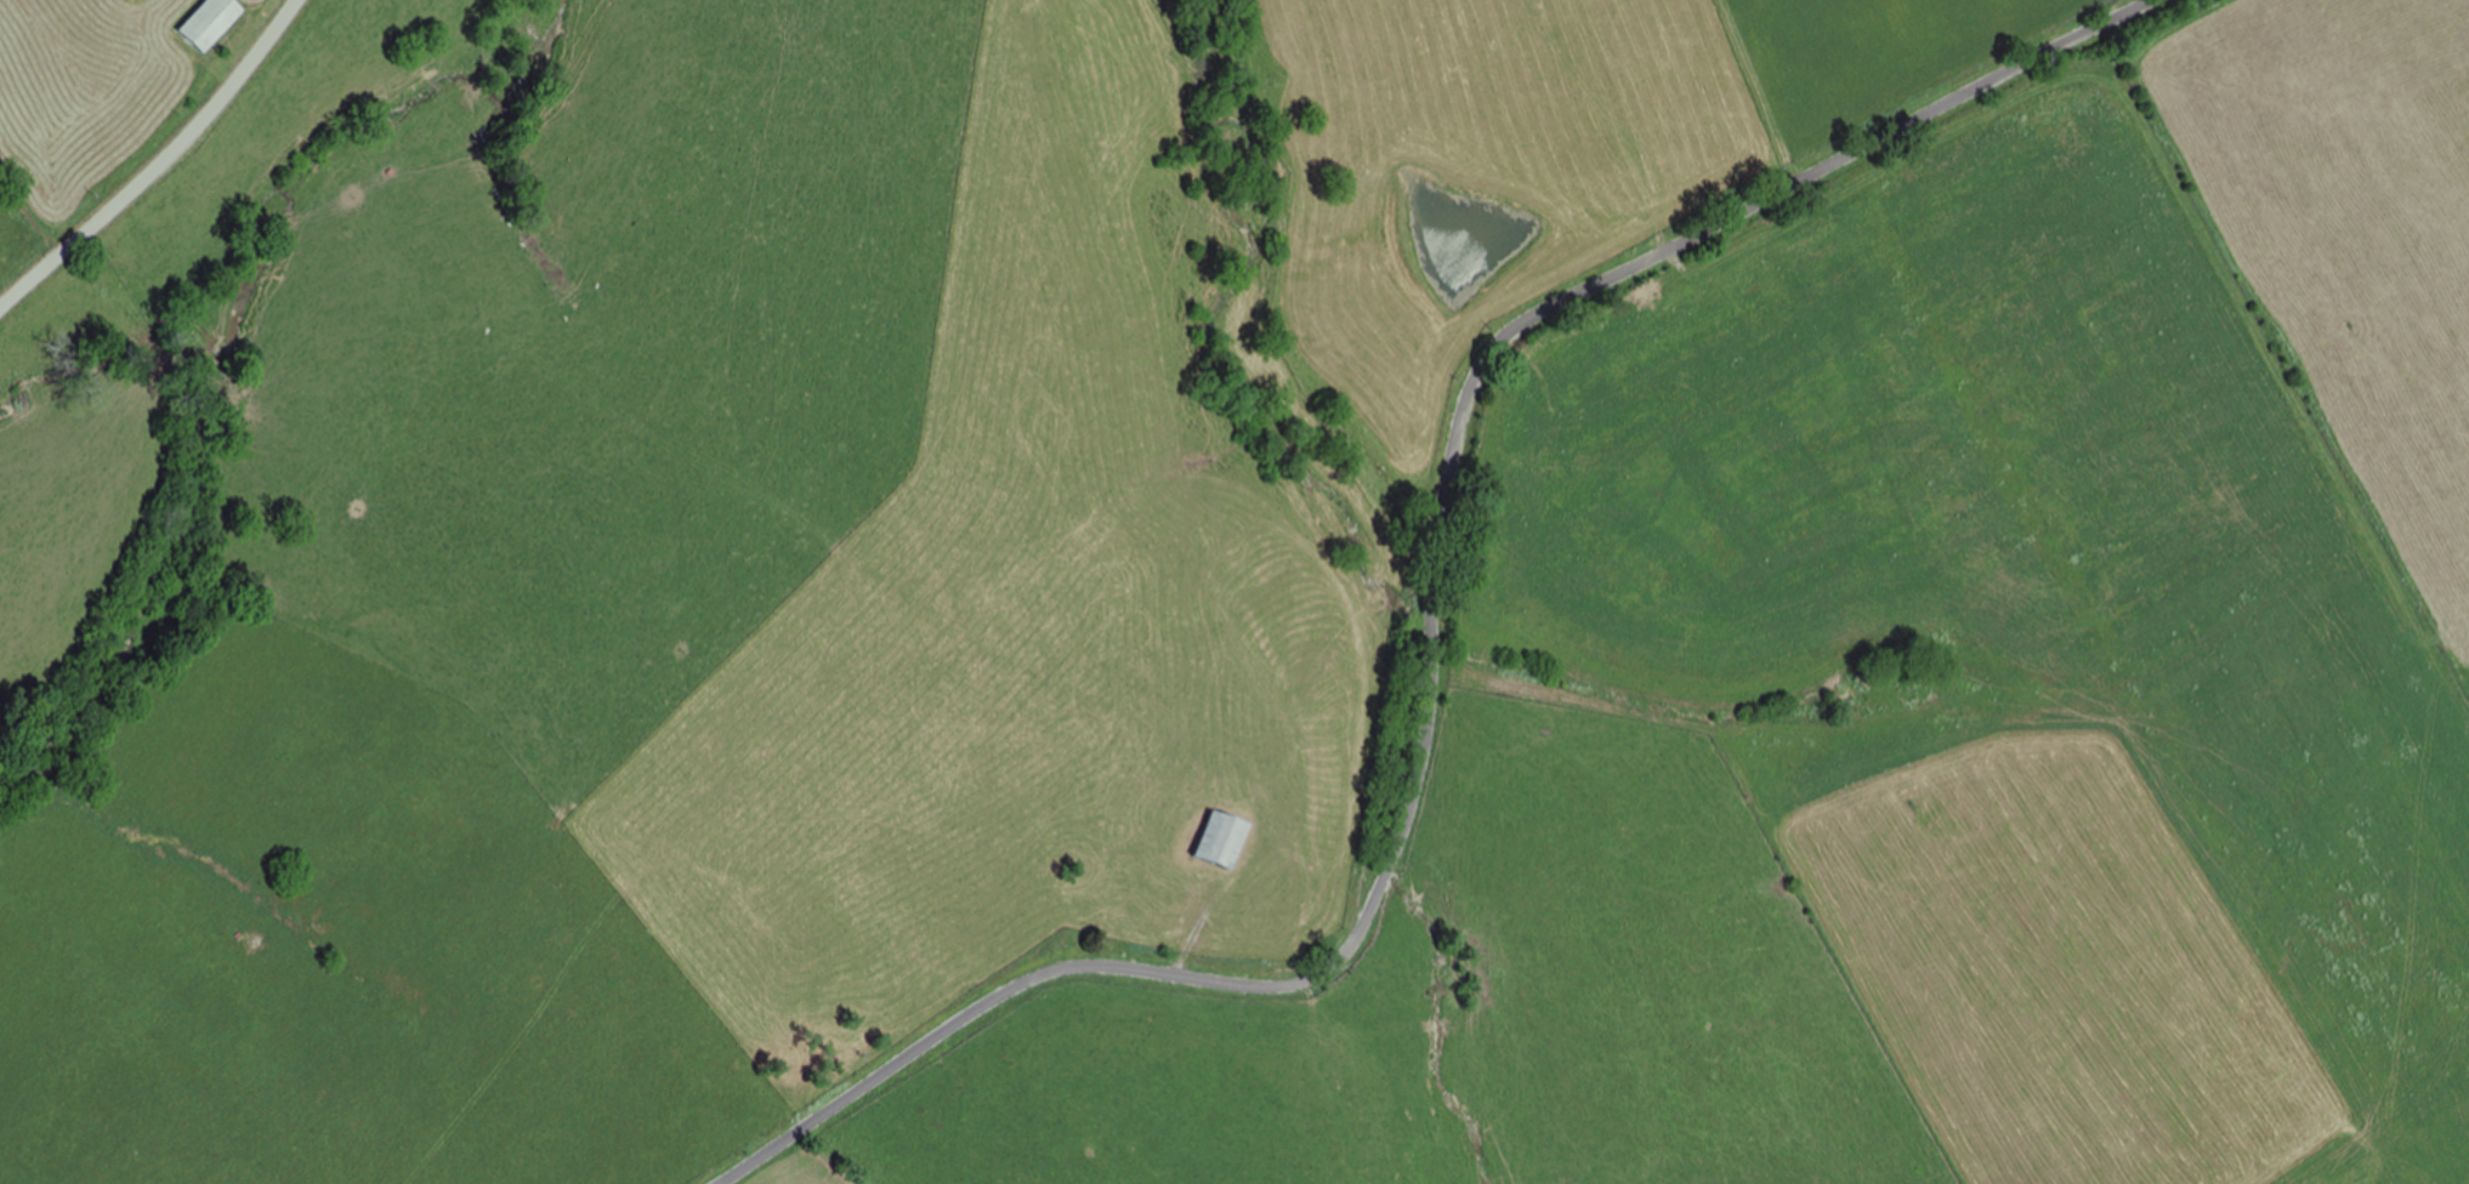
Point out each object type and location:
building: (211, 21)
road: (159, 164)
road: (1432, 632)
building: (1220, 837)

